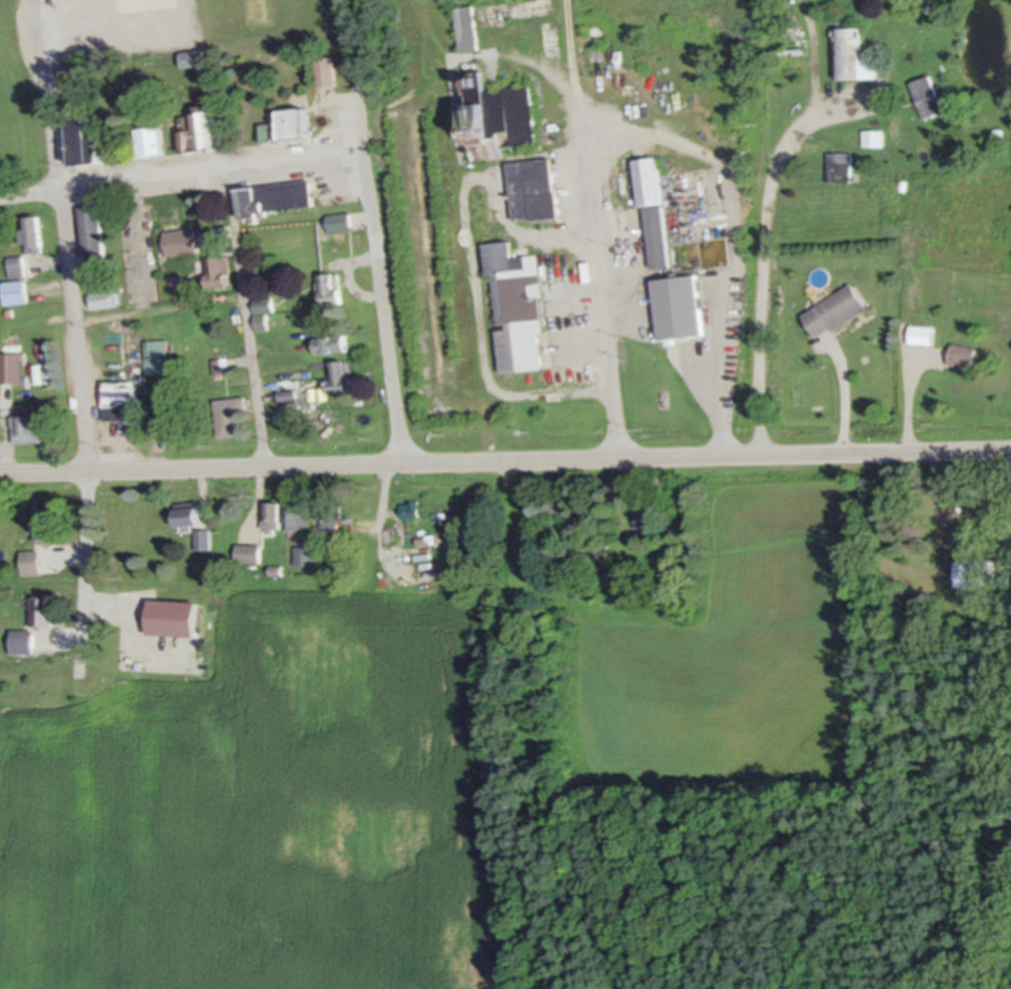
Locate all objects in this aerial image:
building: (465, 26)
building: (851, 54)
building: (192, 56)
building: (324, 69)
building: (71, 71)
building: (926, 95)
building: (505, 118)
building: (287, 123)
building: (201, 131)
building: (873, 136)
building: (148, 139)
building: (83, 143)
building: (838, 165)
road: (179, 169)
building: (647, 179)
building: (533, 188)
building: (273, 196)
building: (478, 201)
building: (338, 221)
road: (594, 228)
road: (371, 231)
building: (30, 234)
building: (91, 234)
building: (657, 236)
road: (765, 264)
building: (15, 265)
building: (216, 271)
building: (175, 281)
building: (327, 287)
building: (14, 291)
building: (102, 298)
building: (262, 304)
building: (678, 306)
road: (159, 308)
building: (515, 308)
building: (834, 310)
road: (246, 312)
building: (922, 333)
road: (76, 336)
building: (329, 343)
building: (960, 354)
building: (156, 355)
building: (11, 366)
building: (338, 376)
building: (168, 393)
building: (287, 395)
road: (845, 398)
building: (119, 399)
road: (907, 407)
building: (229, 414)
building: (27, 427)
road: (505, 457)
building: (185, 512)
building: (297, 515)
building: (271, 516)
building: (332, 518)
building: (643, 518)
building: (44, 527)
building: (203, 538)
building: (247, 552)
building: (305, 555)
building: (30, 561)
building: (975, 571)
building: (41, 608)
building: (171, 617)
building: (21, 639)

